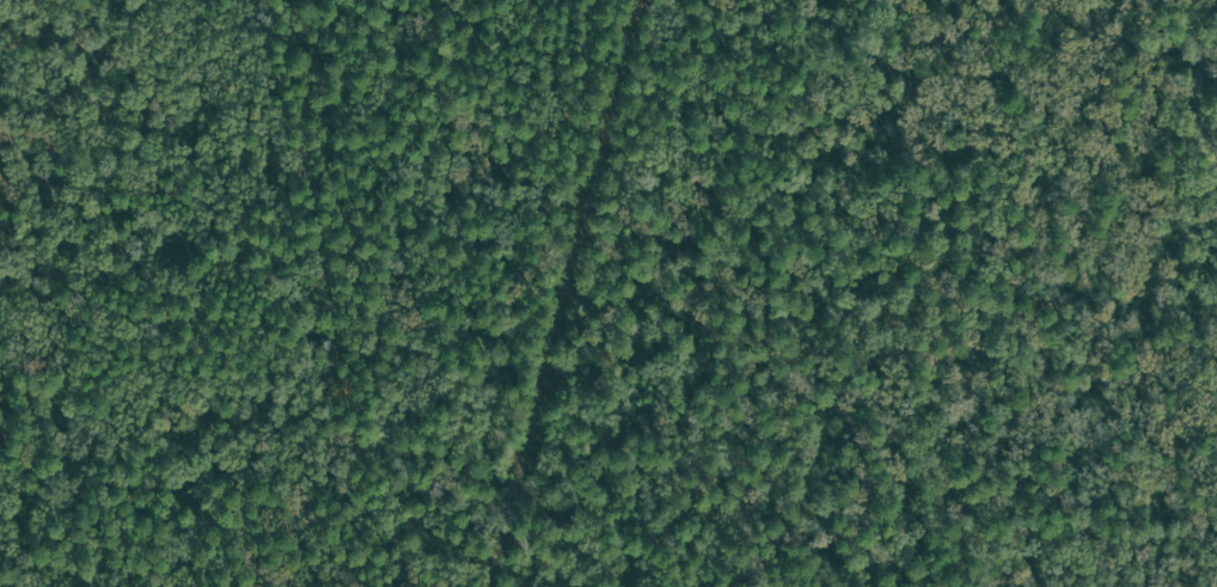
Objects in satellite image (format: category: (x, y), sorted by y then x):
road: (567, 293)

